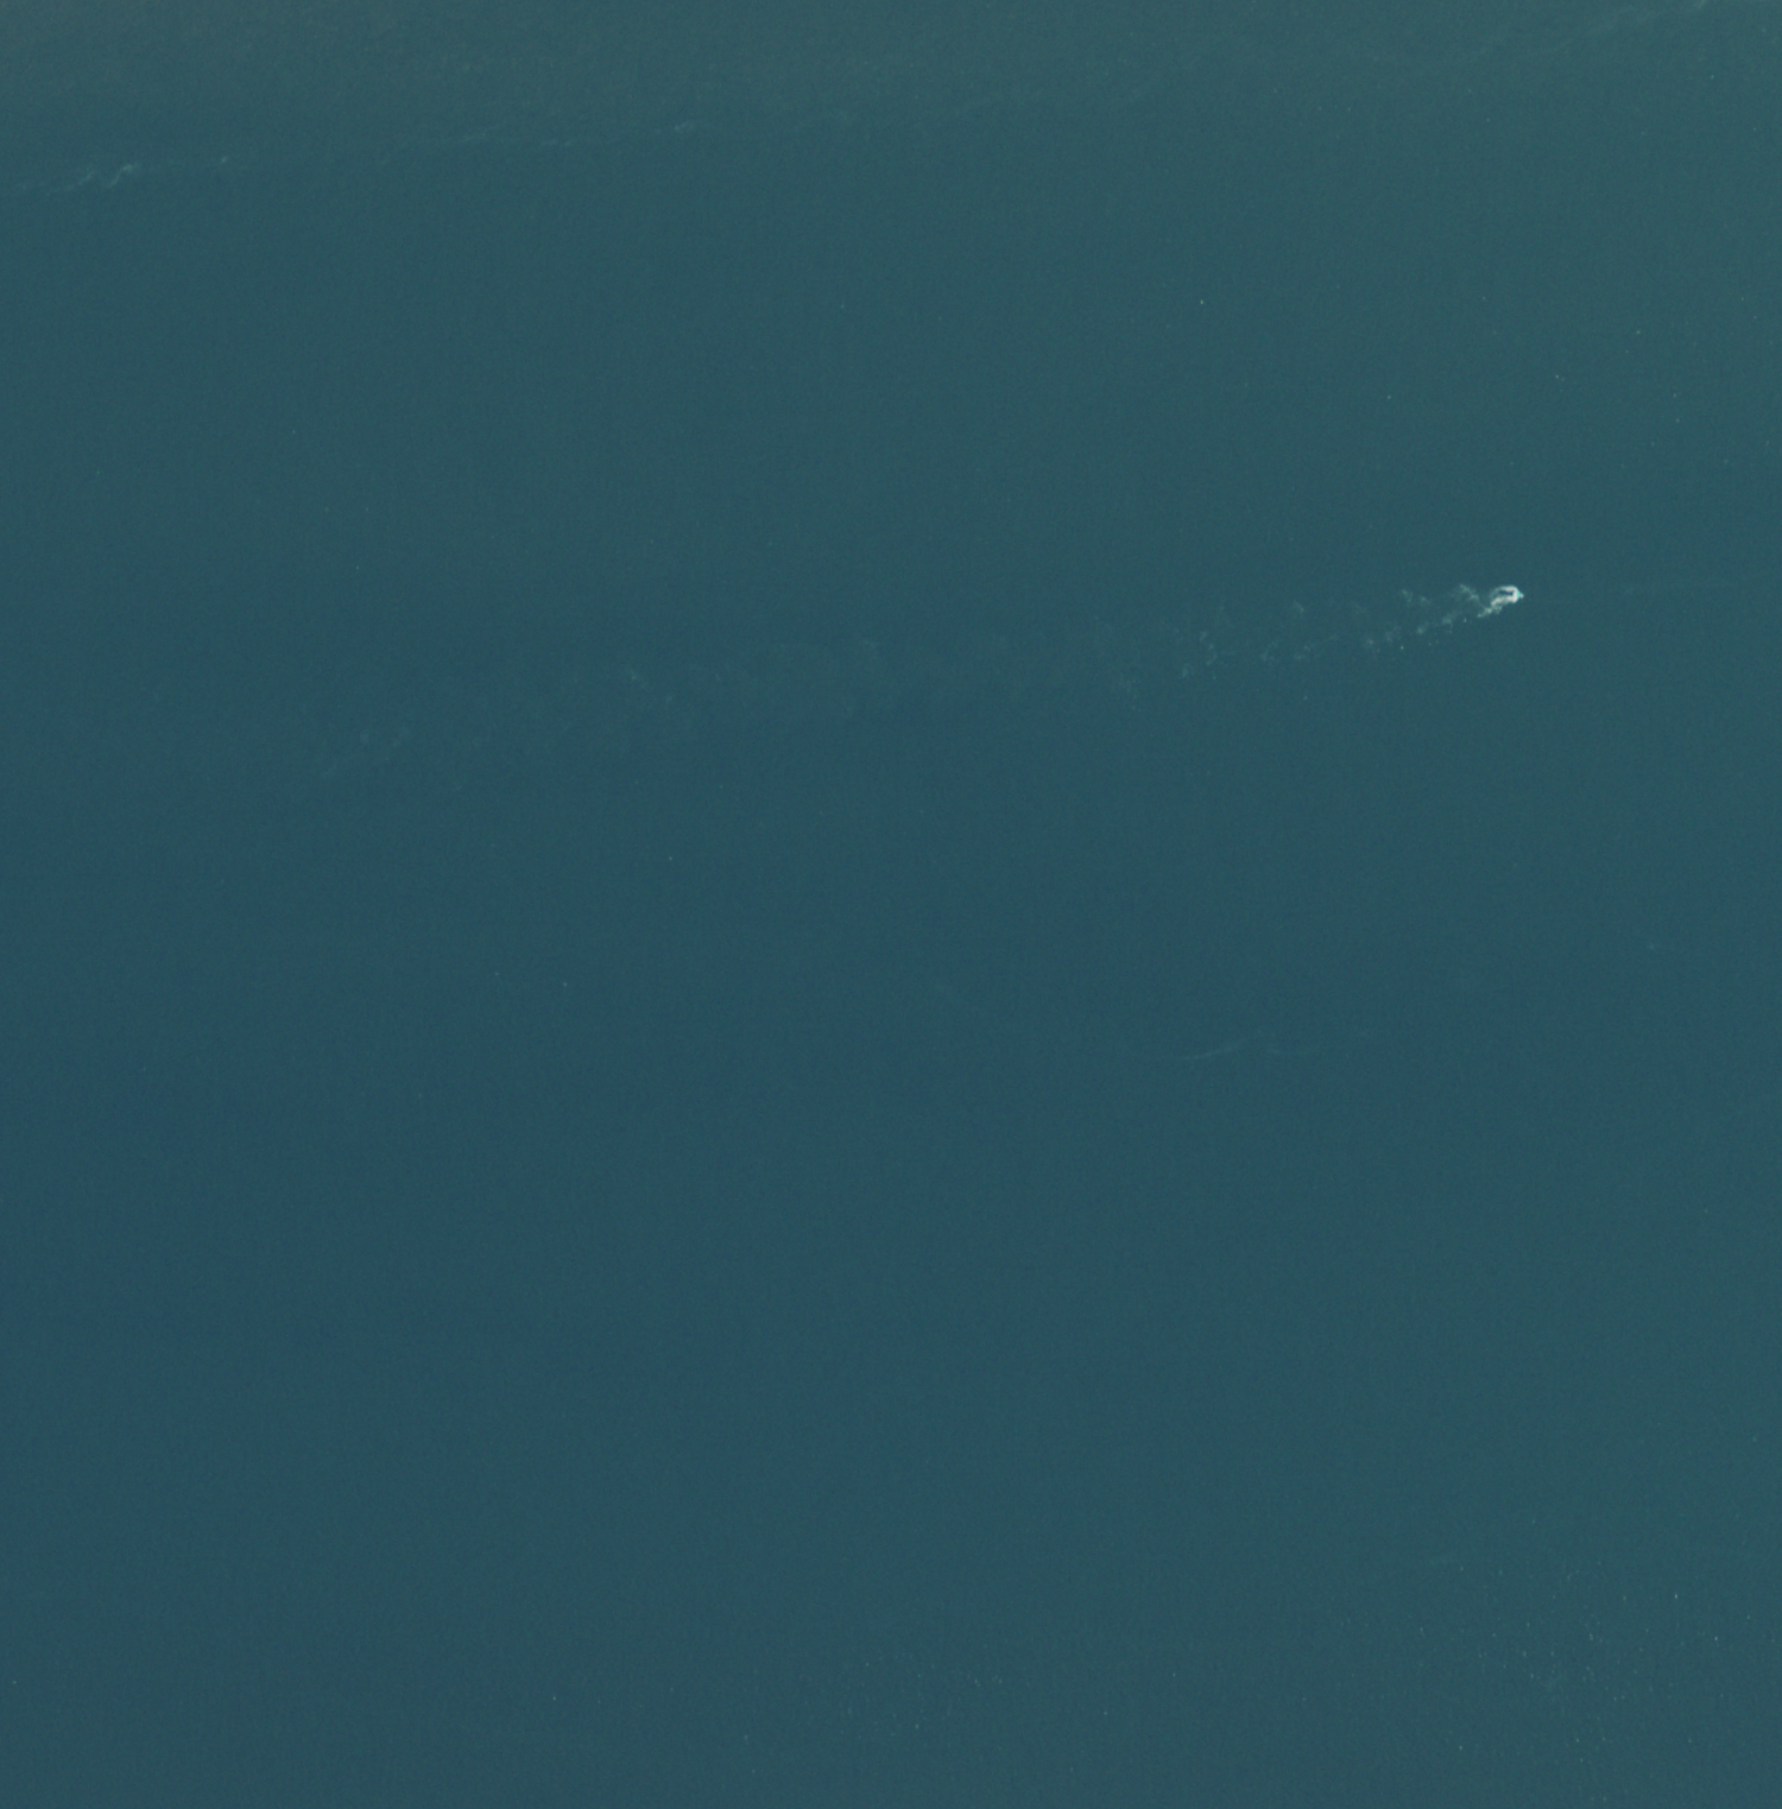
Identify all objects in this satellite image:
river: (891, 1273)
river: (76, 1738)

